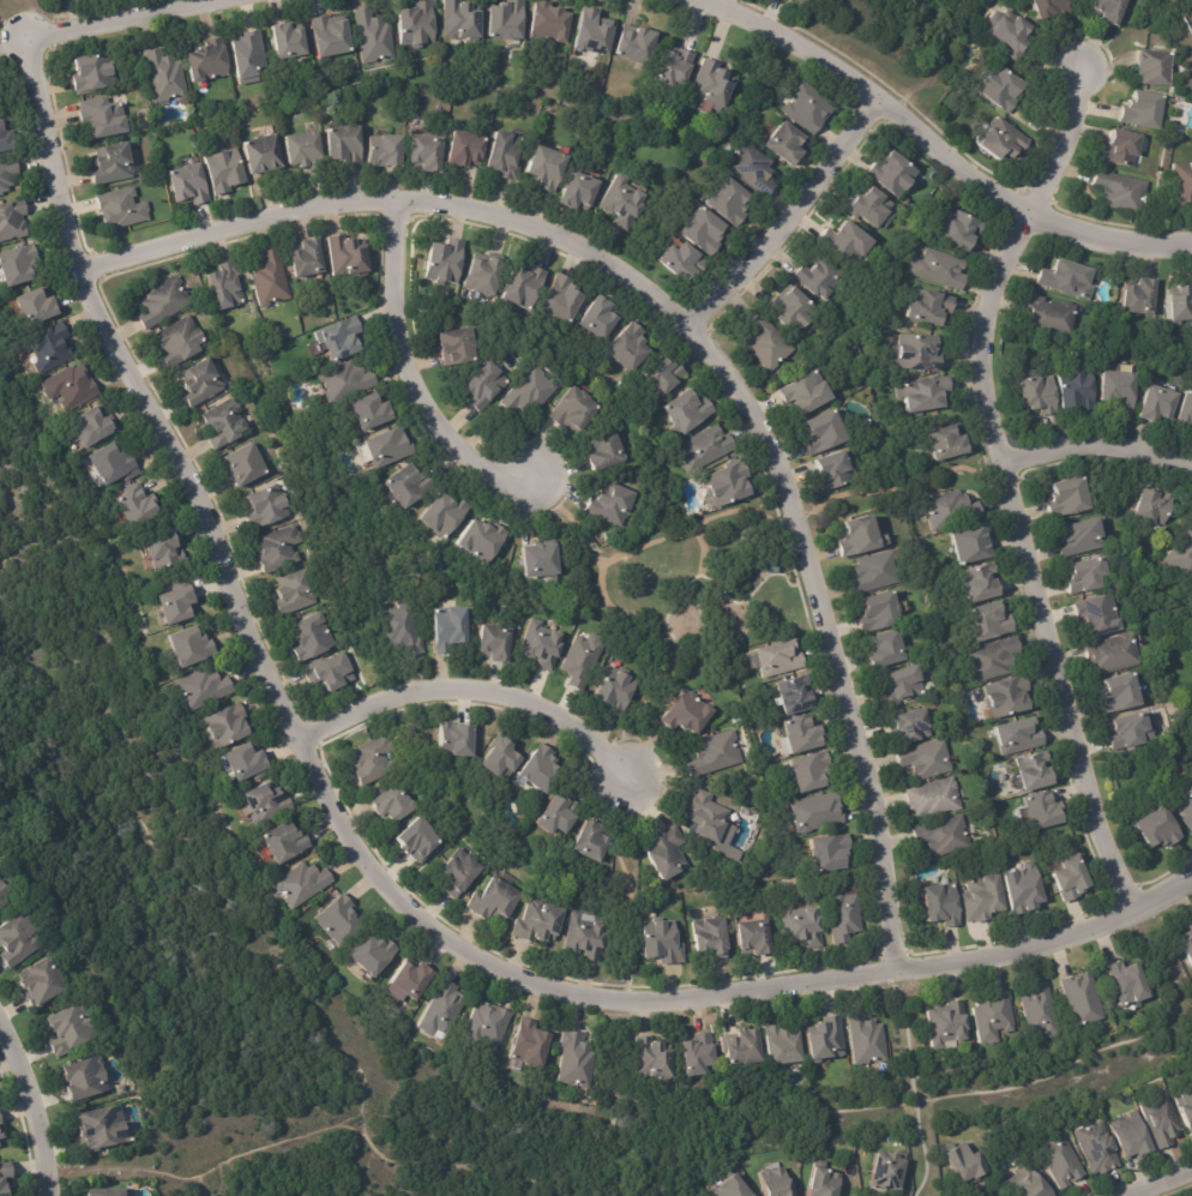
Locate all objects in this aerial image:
building: (800, 1)
building: (805, 1)
building: (1055, 8)
building: (1107, 11)
road: (121, 19)
building: (462, 20)
building: (507, 20)
building: (548, 23)
building: (419, 24)
building: (1010, 32)
building: (591, 34)
building: (332, 37)
building: (374, 37)
building: (289, 41)
building: (637, 43)
building: (249, 58)
building: (209, 60)
building: (675, 67)
building: (1157, 67)
building: (90, 72)
building: (164, 76)
building: (712, 85)
building: (1003, 90)
building: (808, 107)
building: (1144, 109)
building: (102, 118)
building: (5, 137)
building: (1001, 140)
building: (787, 144)
building: (344, 145)
building: (1124, 148)
building: (303, 150)
building: (465, 150)
building: (385, 151)
building: (427, 152)
building: (261, 155)
road: (927, 155)
building: (504, 156)
building: (115, 163)
building: (753, 167)
building: (546, 168)
building: (224, 170)
building: (7, 174)
building: (895, 174)
building: (1184, 184)
building: (188, 185)
building: (1120, 191)
building: (579, 192)
building: (622, 202)
building: (732, 202)
building: (871, 206)
building: (121, 209)
road: (779, 220)
building: (12, 221)
building: (964, 230)
building: (702, 233)
building: (847, 242)
building: (347, 257)
building: (308, 259)
building: (445, 262)
building: (684, 262)
building: (18, 265)
building: (940, 269)
building: (484, 276)
building: (820, 277)
building: (270, 280)
building: (1067, 280)
building: (225, 288)
building: (524, 288)
building: (1142, 298)
building: (564, 300)
building: (163, 302)
building: (1181, 305)
building: (36, 307)
building: (932, 307)
building: (791, 311)
building: (1052, 317)
building: (602, 319)
road: (692, 338)
building: (342, 339)
building: (180, 342)
building: (767, 344)
building: (458, 347)
building: (631, 347)
building: (52, 348)
building: (920, 354)
road: (405, 378)
building: (664, 378)
building: (345, 381)
building: (201, 383)
building: (486, 386)
building: (71, 387)
building: (532, 391)
building: (1078, 391)
building: (1116, 391)
building: (806, 393)
building: (927, 395)
building: (1039, 396)
building: (1158, 407)
building: (1186, 410)
building: (577, 411)
building: (687, 411)
building: (372, 413)
building: (224, 423)
building: (94, 428)
building: (825, 434)
building: (947, 444)
road: (1094, 444)
building: (387, 447)
building: (706, 450)
building: (607, 451)
building: (113, 465)
building: (243, 465)
building: (833, 471)
building: (407, 485)
building: (730, 485)
road: (1001, 485)
building: (1067, 498)
building: (137, 506)
building: (612, 506)
building: (267, 507)
building: (1154, 507)
building: (952, 511)
building: (444, 515)
building: (857, 537)
building: (1079, 537)
building: (481, 542)
building: (970, 545)
building: (279, 549)
building: (163, 552)
building: (1184, 559)
building: (541, 563)
building: (771, 567)
building: (875, 573)
building: (1085, 575)
building: (981, 583)
building: (294, 594)
building: (177, 607)
building: (881, 614)
building: (1102, 617)
building: (993, 624)
building: (402, 630)
building: (451, 630)
building: (311, 637)
building: (495, 645)
building: (191, 647)
building: (542, 647)
building: (889, 651)
building: (1114, 655)
building: (779, 659)
building: (992, 659)
building: (583, 660)
building: (330, 673)
building: (901, 686)
building: (203, 690)
road: (471, 690)
building: (615, 691)
building: (1119, 695)
building: (796, 696)
building: (1010, 699)
building: (686, 715)
building: (905, 726)
building: (228, 728)
building: (1127, 731)
building: (802, 734)
building: (1018, 735)
building: (456, 741)
building: (716, 755)
building: (501, 759)
building: (927, 761)
building: (372, 762)
building: (247, 765)
building: (540, 767)
building: (809, 773)
building: (1036, 774)
building: (934, 800)
building: (264, 803)
building: (391, 805)
building: (1185, 806)
building: (815, 812)
building: (1043, 813)
building: (556, 816)
building: (709, 819)
building: (1157, 828)
building: (944, 837)
building: (417, 841)
building: (590, 842)
building: (285, 846)
building: (827, 853)
building: (668, 855)
road: (361, 861)
building: (459, 873)
building: (540, 876)
building: (1070, 881)
building: (302, 885)
building: (1022, 889)
building: (2, 893)
building: (494, 901)
building: (983, 901)
building: (943, 908)
building: (844, 914)
building: (338, 920)
building: (537, 925)
building: (801, 927)
building: (19, 938)
building: (584, 939)
building: (712, 939)
building: (753, 939)
building: (1187, 943)
building: (662, 944)
building: (372, 957)
building: (408, 981)
building: (42, 982)
building: (1131, 986)
building: (1083, 1002)
building: (441, 1014)
building: (1041, 1015)
building: (992, 1018)
building: (947, 1026)
building: (71, 1028)
building: (486, 1028)
building: (824, 1039)
building: (867, 1042)
building: (529, 1047)
building: (783, 1048)
building: (742, 1050)
building: (697, 1057)
building: (577, 1063)
building: (654, 1063)
building: (86, 1081)
building: (121, 1089)
building: (1186, 1107)
road: (32, 1116)
building: (1161, 1119)
building: (102, 1129)
building: (0, 1135)
building: (1133, 1136)
building: (1098, 1148)
building: (1061, 1161)
building: (967, 1162)
building: (886, 1172)
building: (5, 1177)
building: (776, 1183)
building: (823, 1183)
building: (1028, 1183)
road: (1166, 1185)
building: (733, 1188)
building: (106, 1192)
road: (869, 1195)

